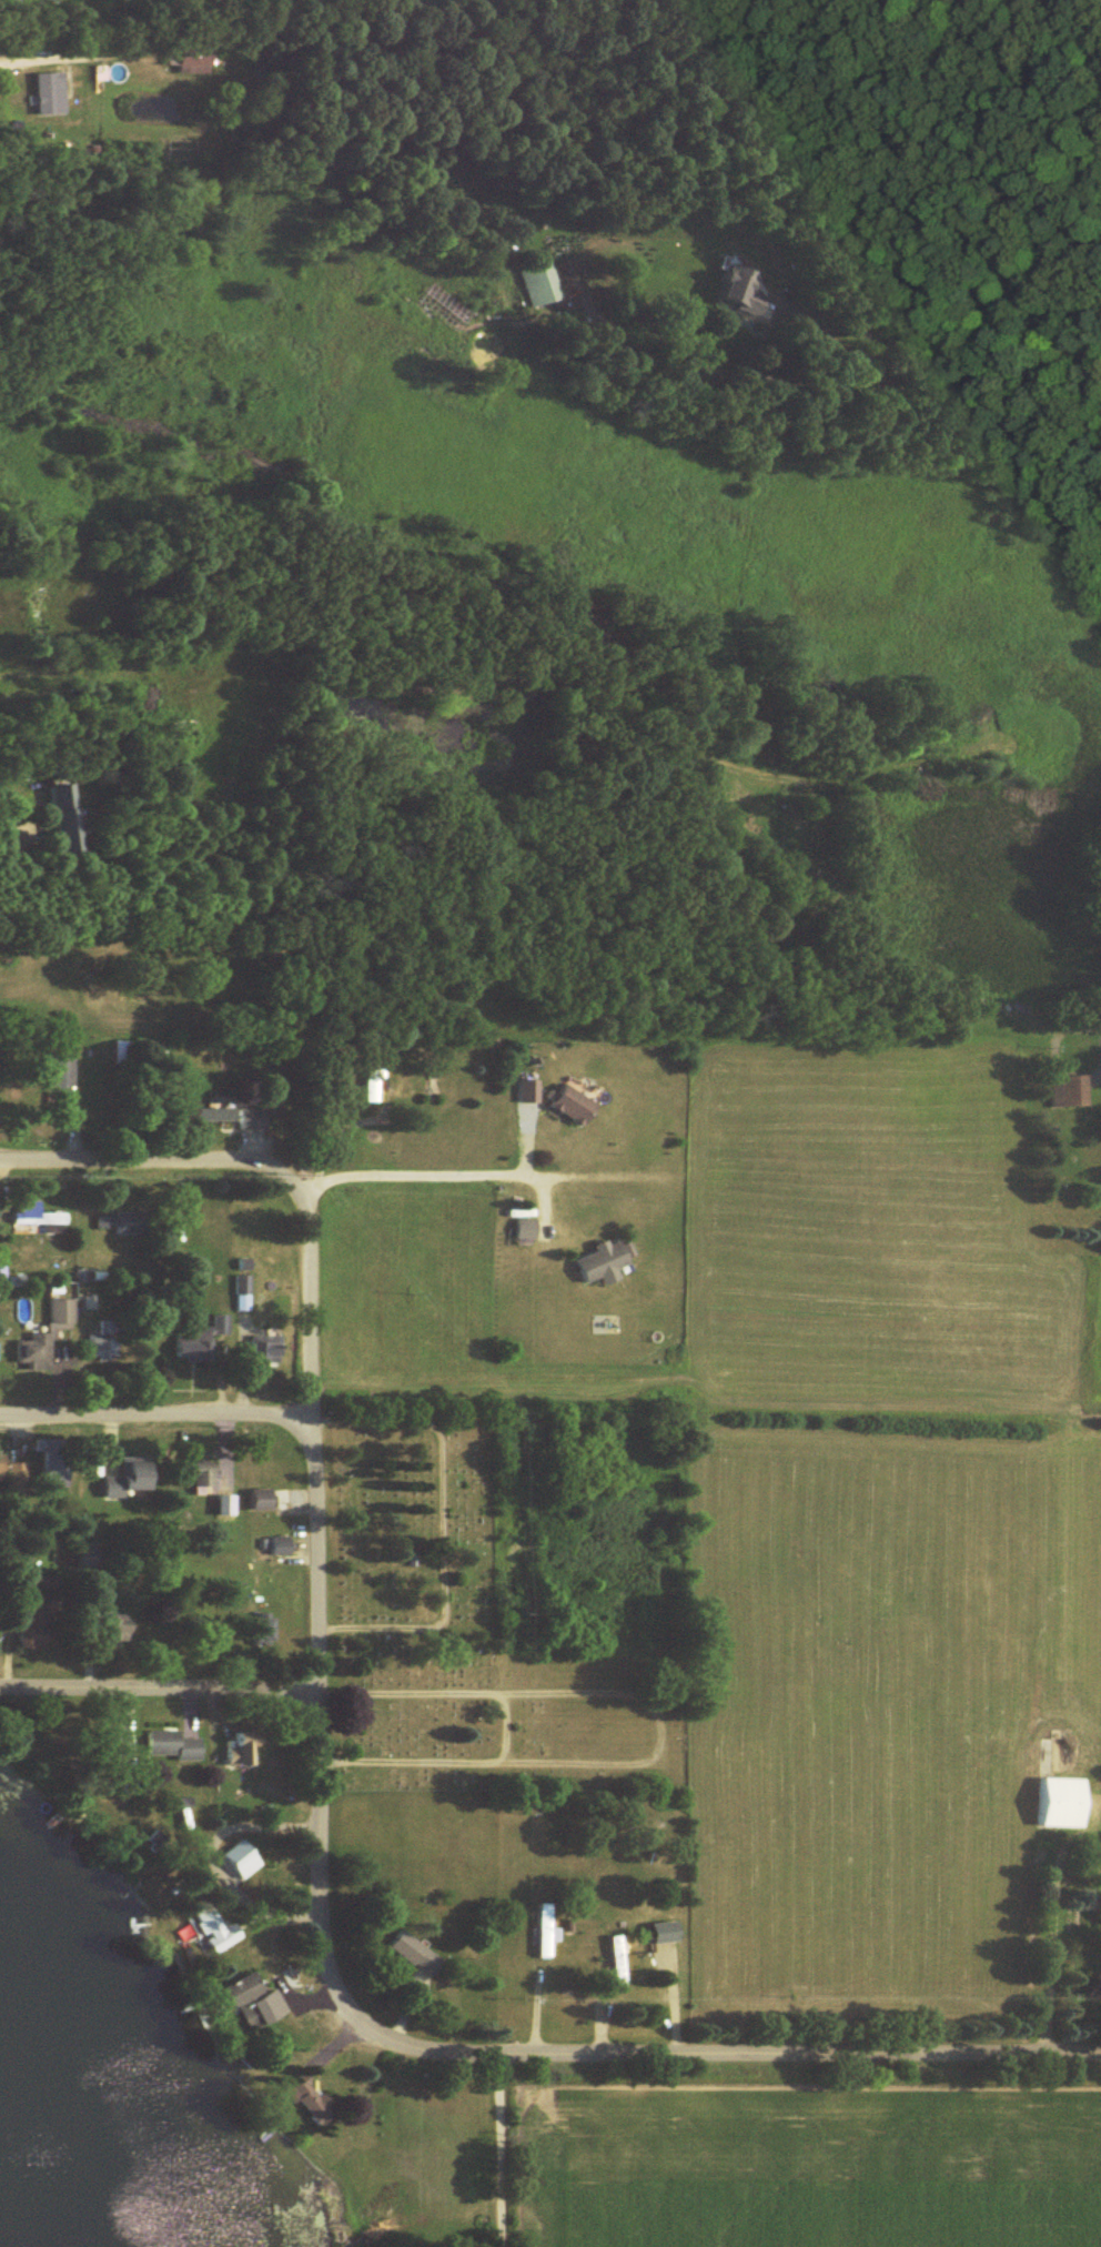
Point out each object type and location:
building: (49, 93)
building: (536, 283)
building: (740, 289)
road: (822, 387)
building: (43, 604)
building: (189, 740)
building: (71, 819)
road: (819, 848)
road: (750, 898)
building: (123, 1052)
building: (374, 1086)
building: (1061, 1092)
building: (576, 1106)
building: (210, 1115)
building: (254, 1120)
road: (154, 1140)
road: (430, 1156)
road: (626, 1157)
building: (38, 1217)
building: (124, 1225)
building: (527, 1229)
building: (604, 1262)
building: (243, 1293)
building: (92, 1303)
building: (47, 1338)
building: (199, 1340)
building: (107, 1342)
building: (267, 1350)
road: (896, 1386)
road: (150, 1398)
road: (310, 1420)
building: (55, 1462)
building: (14, 1475)
building: (130, 1478)
building: (264, 1500)
building: (281, 1545)
building: (92, 1554)
building: (124, 1631)
building: (37, 1632)
park: (469, 1636)
road: (151, 1669)
building: (175, 1746)
building: (250, 1750)
building: (1051, 1783)
building: (239, 1855)
building: (1097, 1916)
building: (211, 1927)
building: (546, 1931)
building: (666, 1932)
building: (418, 1953)
building: (619, 1961)
building: (244, 1989)
road: (552, 2047)
building: (313, 2102)
road: (498, 2146)

